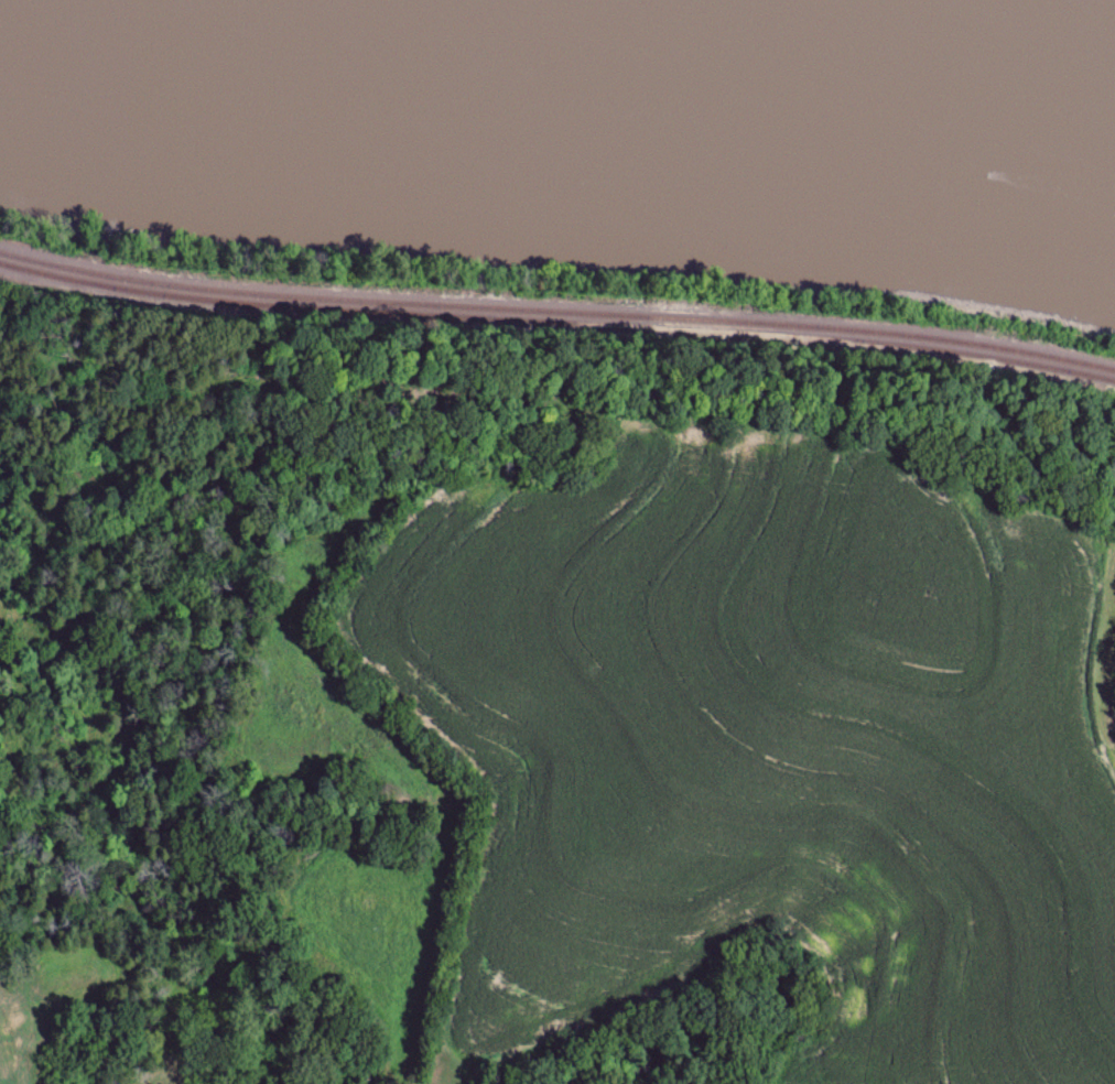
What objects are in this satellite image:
railway: (557, 312)
railway: (557, 329)

